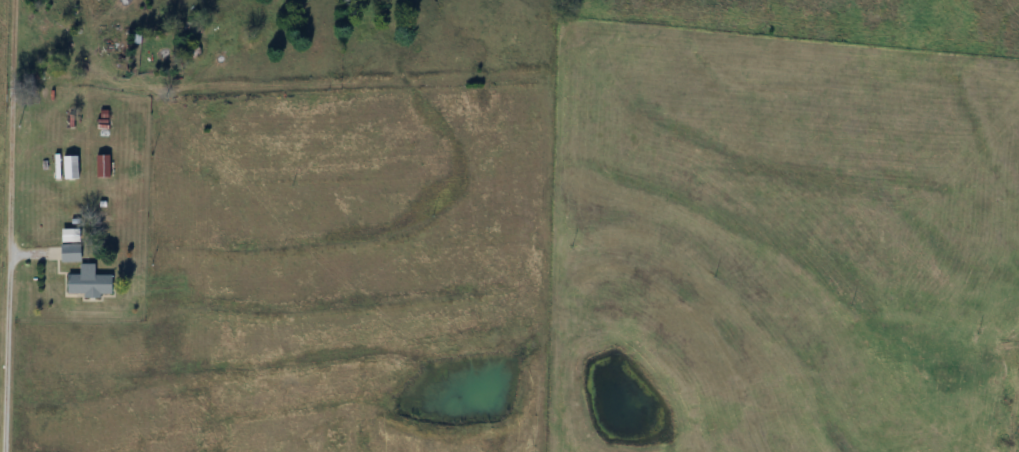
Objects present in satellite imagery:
building: (104, 166)
building: (72, 167)
road: (8, 226)
building: (71, 253)
building: (91, 283)

